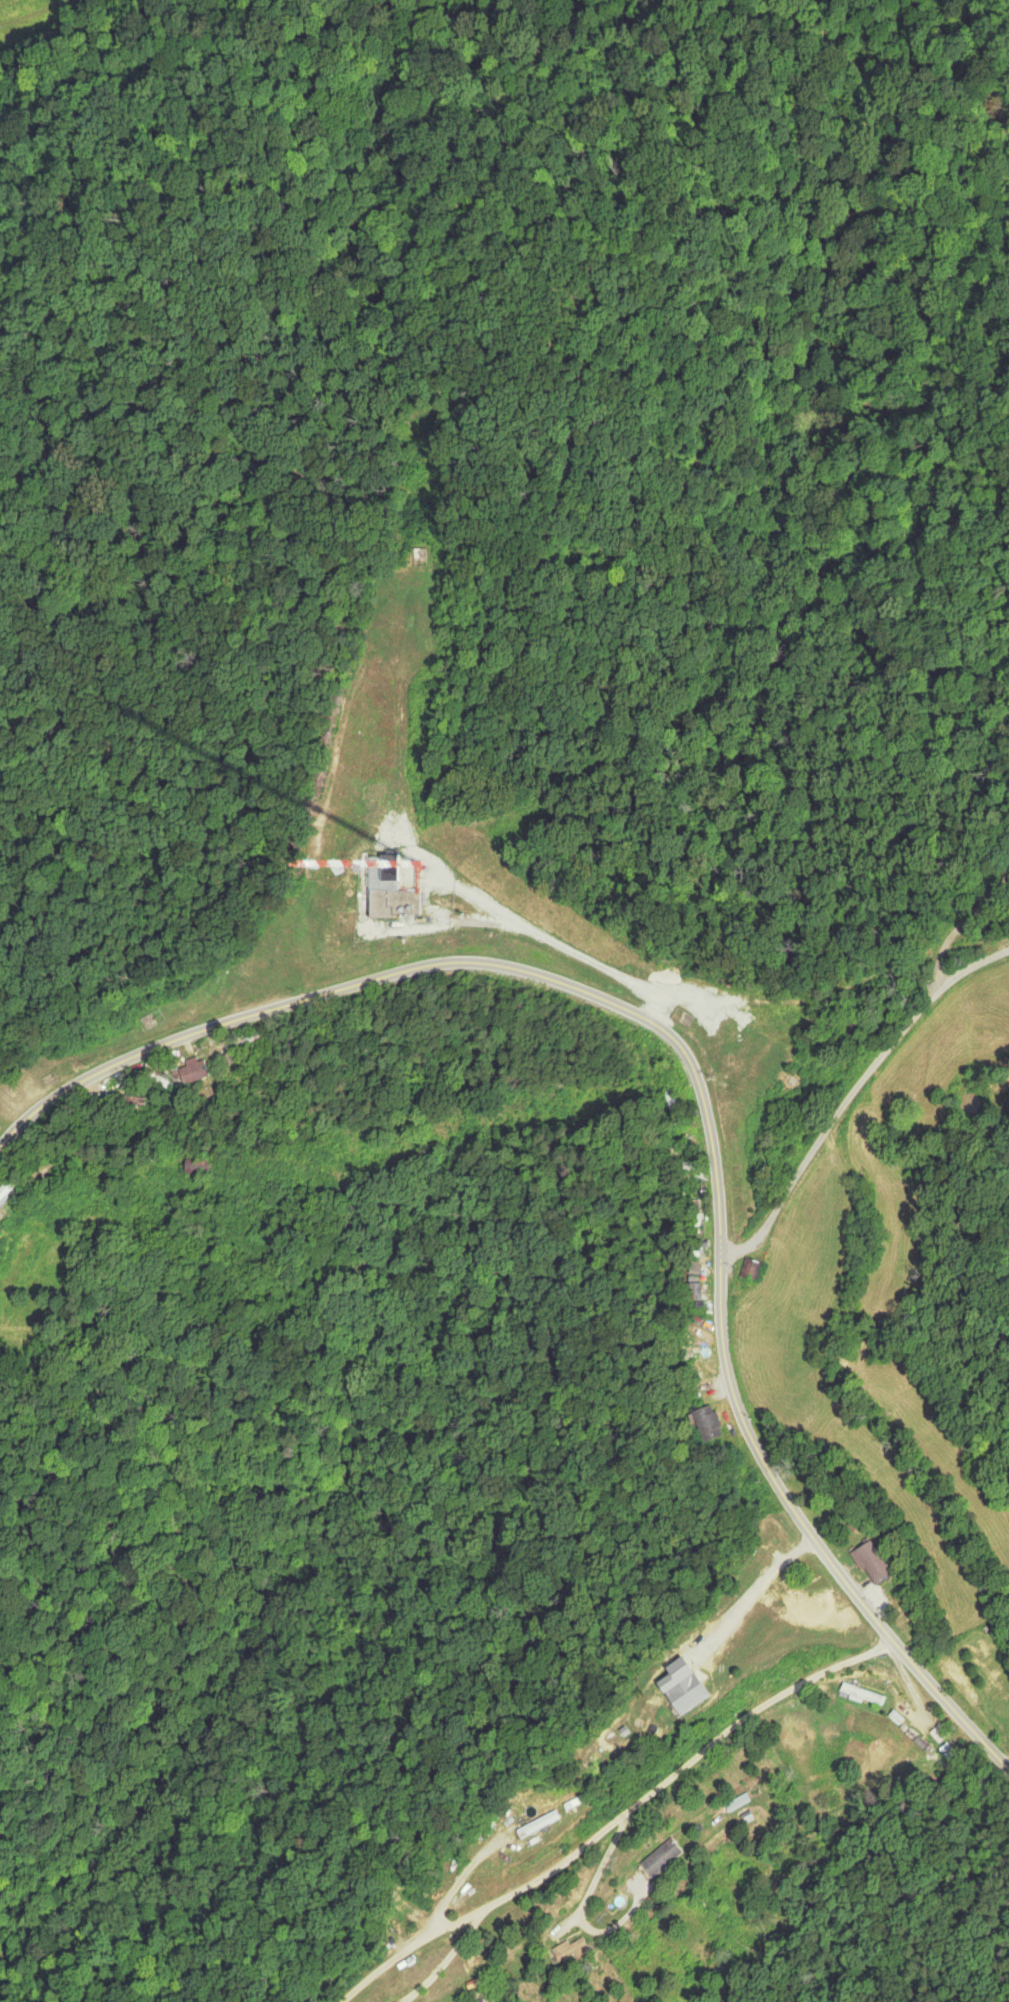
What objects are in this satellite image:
building: (395, 869)
building: (402, 902)
road: (965, 923)
building: (258, 1037)
building: (198, 1072)
road: (697, 1085)
road: (854, 1096)
building: (676, 1106)
building: (9, 1206)
building: (758, 1268)
building: (700, 1291)
building: (711, 1421)
building: (882, 1561)
building: (683, 1692)
building: (651, 1728)
road: (681, 1766)
building: (736, 1801)
building: (544, 1823)
building: (669, 1856)
building: (579, 1948)

